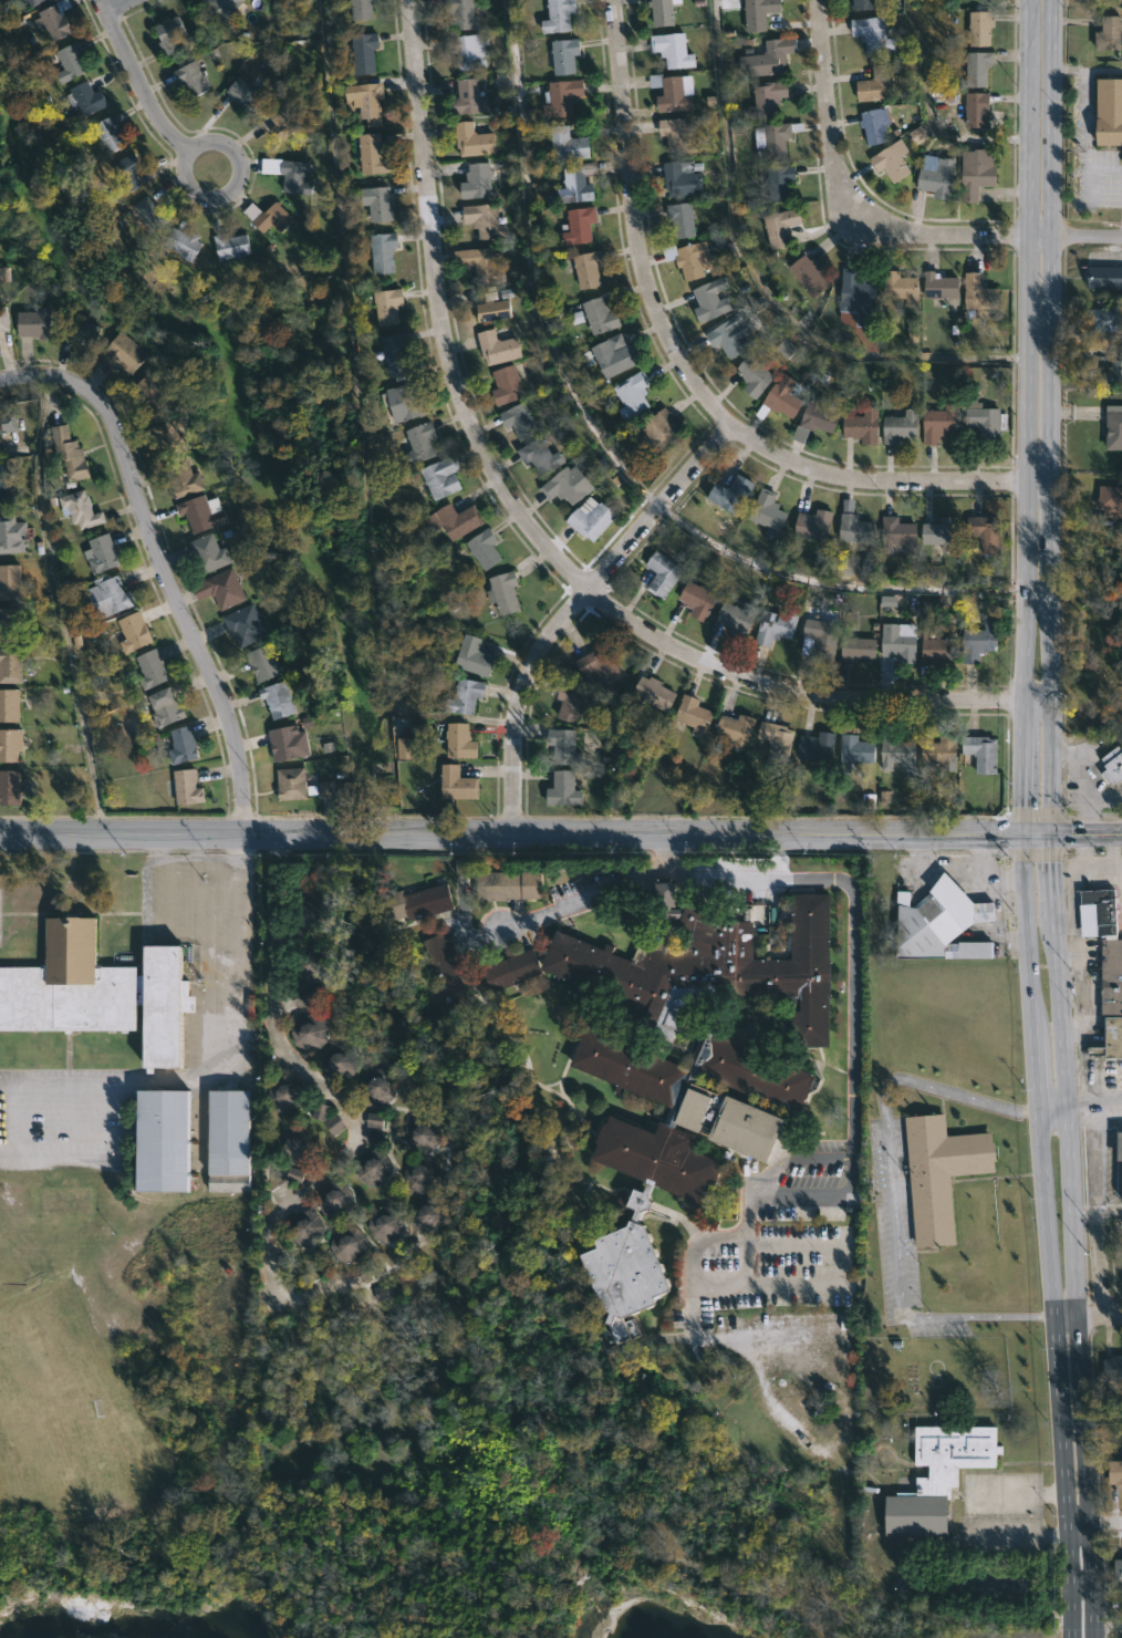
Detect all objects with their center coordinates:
building: (977, 0)
building: (37, 2)
building: (860, 3)
road: (120, 7)
building: (360, 9)
building: (224, 10)
building: (665, 12)
building: (463, 13)
building: (755, 13)
building: (557, 15)
building: (54, 19)
building: (978, 27)
building: (1108, 32)
building: (871, 33)
building: (166, 34)
building: (672, 49)
building: (467, 51)
building: (364, 53)
building: (563, 55)
building: (766, 58)
building: (71, 61)
building: (976, 66)
road: (1101, 71)
road: (136, 76)
building: (191, 76)
building: (875, 83)
building: (242, 92)
building: (672, 93)
building: (85, 95)
building: (471, 96)
building: (561, 96)
building: (766, 97)
building: (367, 99)
building: (975, 108)
road: (927, 110)
building: (1109, 111)
road: (1084, 116)
building: (280, 121)
building: (872, 125)
road: (833, 132)
building: (107, 134)
building: (681, 135)
building: (471, 138)
building: (771, 138)
road: (204, 139)
building: (571, 144)
building: (371, 153)
building: (891, 160)
building: (127, 168)
building: (976, 172)
building: (293, 176)
building: (685, 177)
building: (937, 177)
building: (479, 182)
building: (778, 182)
building: (580, 184)
building: (376, 201)
building: (147, 214)
building: (271, 217)
building: (679, 218)
building: (487, 221)
building: (582, 225)
building: (779, 226)
road: (1009, 237)
building: (179, 243)
building: (229, 246)
building: (382, 251)
building: (688, 260)
building: (478, 261)
building: (591, 269)
building: (806, 276)
building: (1103, 278)
building: (938, 284)
building: (900, 287)
road: (757, 288)
building: (856, 294)
building: (976, 296)
building: (709, 300)
building: (388, 307)
building: (492, 309)
building: (603, 315)
building: (3, 319)
building: (1102, 319)
building: (32, 323)
building: (81, 331)
building: (729, 338)
building: (499, 348)
building: (122, 352)
building: (399, 355)
building: (613, 355)
building: (1114, 366)
building: (754, 376)
road: (689, 377)
building: (509, 384)
building: (150, 391)
building: (634, 395)
building: (405, 401)
building: (778, 402)
building: (812, 418)
road: (1024, 418)
building: (984, 419)
building: (521, 421)
building: (7, 423)
building: (936, 423)
building: (860, 425)
building: (896, 427)
building: (1113, 427)
building: (664, 432)
building: (168, 439)
building: (418, 443)
building: (0, 447)
building: (71, 453)
building: (542, 456)
building: (184, 477)
building: (444, 478)
building: (7, 481)
building: (570, 485)
building: (728, 495)
building: (1109, 498)
building: (79, 510)
building: (200, 512)
building: (767, 514)
building: (593, 519)
building: (455, 522)
building: (812, 525)
building: (851, 526)
building: (897, 533)
building: (939, 533)
building: (985, 533)
building: (13, 535)
road: (536, 536)
building: (487, 549)
building: (207, 553)
building: (98, 554)
road: (163, 566)
building: (657, 574)
building: (10, 582)
road: (832, 584)
building: (224, 589)
building: (506, 593)
building: (106, 595)
building: (694, 600)
road: (58, 604)
road: (571, 608)
building: (737, 618)
building: (773, 624)
building: (10, 625)
building: (247, 625)
building: (136, 633)
building: (817, 637)
building: (975, 642)
building: (896, 646)
building: (933, 649)
building: (854, 650)
building: (476, 657)
building: (267, 665)
building: (12, 666)
building: (600, 667)
building: (146, 670)
building: (650, 693)
building: (464, 696)
building: (278, 701)
building: (573, 702)
building: (9, 705)
building: (168, 708)
building: (692, 716)
building: (735, 730)
building: (458, 742)
building: (776, 742)
building: (290, 744)
building: (853, 745)
building: (11, 746)
building: (185, 746)
building: (562, 746)
building: (814, 747)
building: (407, 748)
building: (895, 750)
building: (938, 750)
building: (981, 753)
building: (1111, 766)
building: (459, 785)
building: (305, 786)
building: (11, 788)
building: (185, 788)
building: (565, 789)
road: (1046, 819)
road: (510, 836)
traffic signals: (1021, 837)
traffic signals: (1046, 837)
road: (1071, 837)
road: (1083, 867)
building: (507, 884)
road: (581, 901)
building: (411, 903)
building: (1097, 912)
building: (311, 913)
road: (849, 924)
building: (936, 924)
road: (176, 933)
road: (231, 954)
building: (697, 964)
building: (309, 965)
building: (448, 973)
building: (95, 989)
building: (1111, 997)
building: (308, 999)
building: (311, 1033)
building: (341, 1061)
building: (378, 1087)
building: (287, 1092)
road: (326, 1096)
road: (1091, 1109)
road: (1049, 1110)
building: (321, 1112)
road: (58, 1122)
building: (335, 1126)
building: (423, 1134)
building: (157, 1139)
building: (226, 1140)
building: (673, 1142)
building: (295, 1145)
building: (1118, 1157)
road: (789, 1158)
building: (374, 1167)
building: (422, 1173)
building: (939, 1173)
road: (889, 1193)
road: (801, 1194)
building: (336, 1199)
road: (748, 1211)
building: (428, 1214)
building: (386, 1224)
building: (307, 1227)
road: (1046, 1236)
building: (350, 1244)
road: (838, 1269)
road: (699, 1285)
road: (370, 1298)
road: (1087, 1319)
road: (729, 1334)
building: (682, 1364)
building: (1111, 1367)
road: (1102, 1420)
building: (1114, 1472)
building: (937, 1476)
road: (1015, 1494)
road: (1093, 1524)
building: (1118, 1570)
road: (744, 1595)
river: (650, 1624)
river: (232, 1627)

